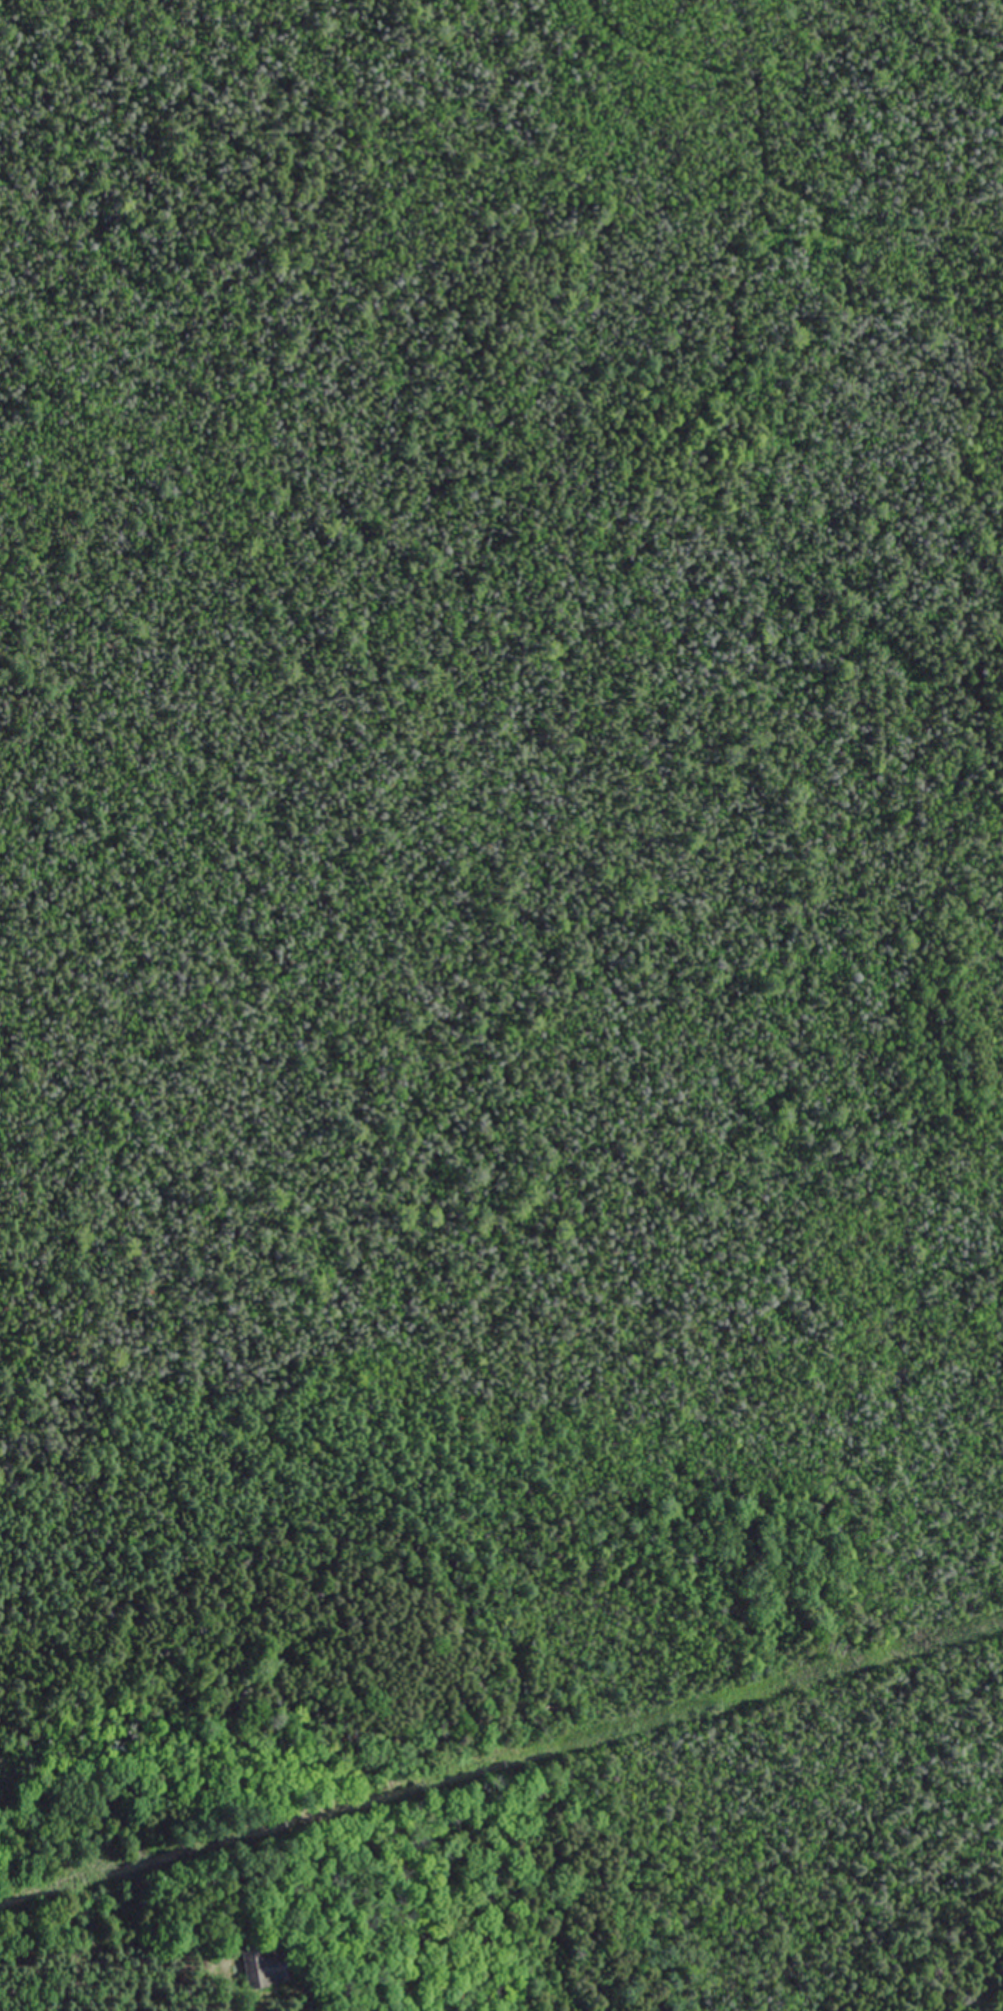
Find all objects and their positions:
building: (260, 1968)
road: (240, 2010)

